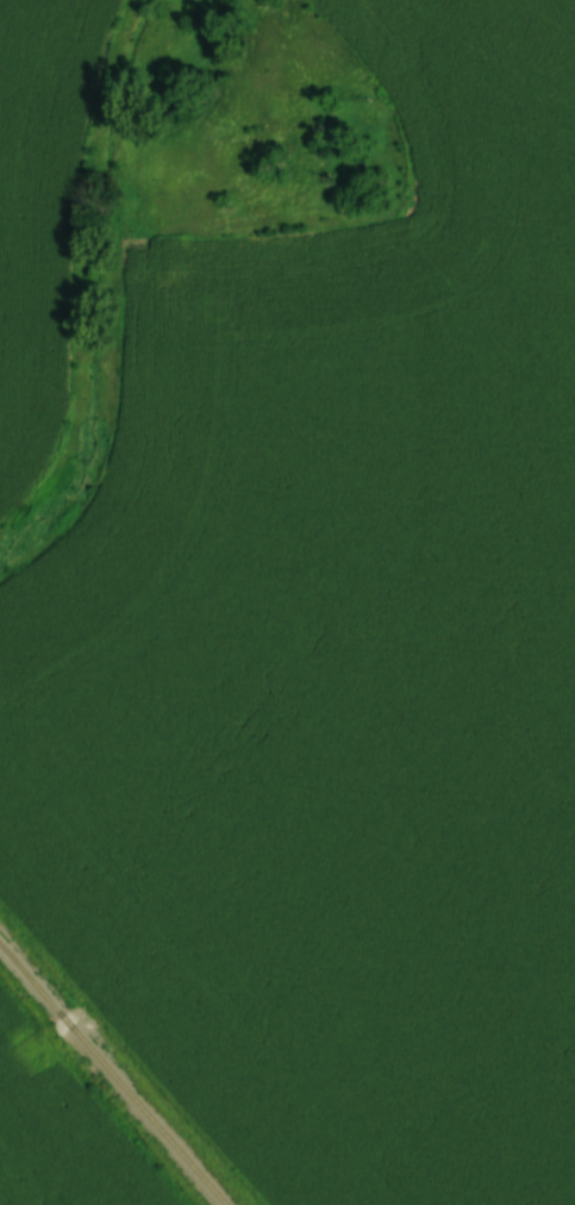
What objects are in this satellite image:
railway: (132, 1068)

